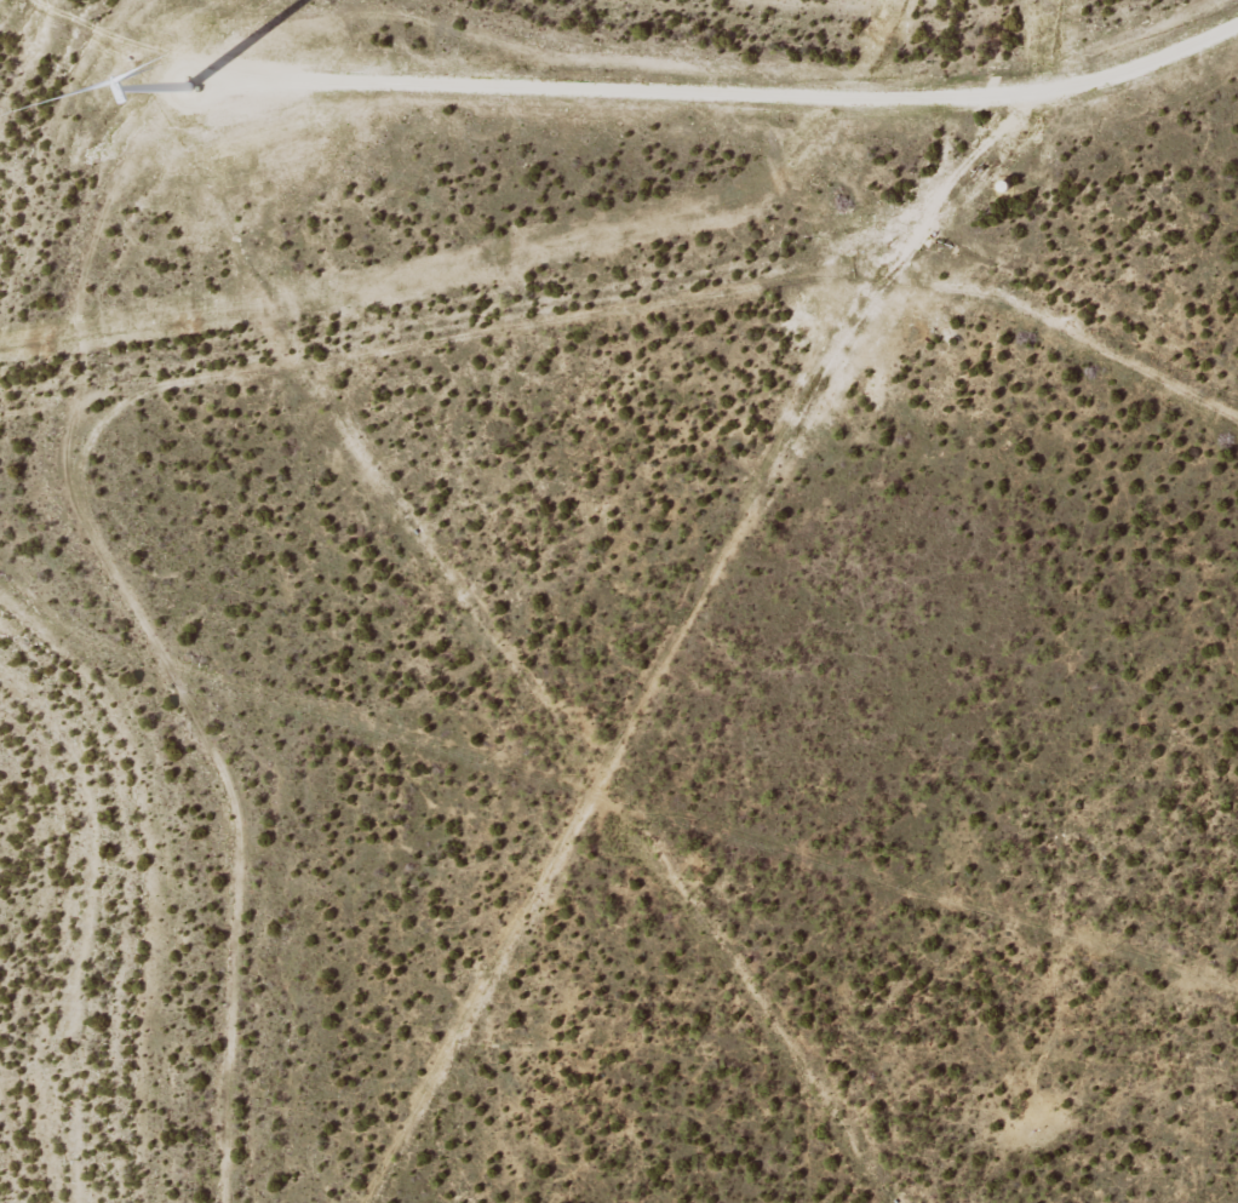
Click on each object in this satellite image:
wind turbine: (191, 87)

